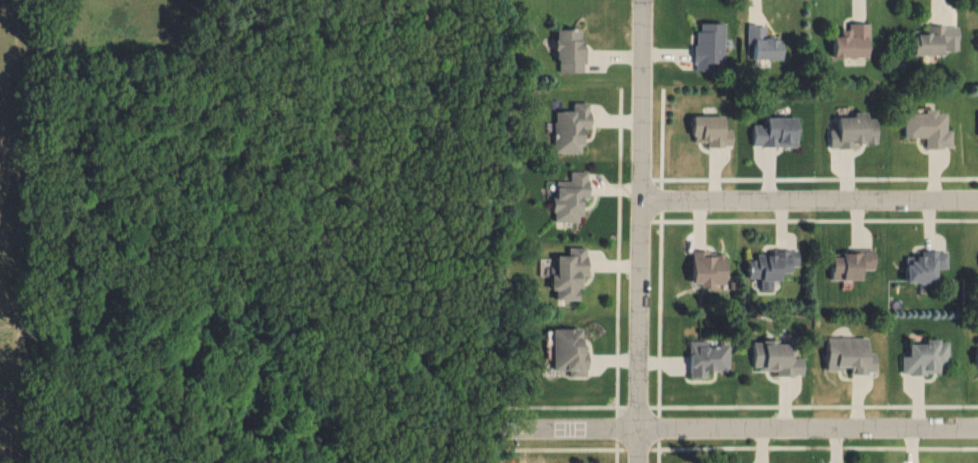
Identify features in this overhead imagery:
building: (933, 44)
building: (706, 45)
building: (853, 46)
building: (763, 47)
building: (567, 53)
building: (569, 130)
building: (708, 130)
building: (929, 131)
building: (854, 133)
building: (775, 135)
road: (659, 136)
road: (814, 176)
road: (633, 181)
road: (615, 186)
building: (568, 199)
road: (659, 199)
road: (810, 201)
road: (633, 203)
road: (814, 219)
road: (642, 231)
road: (617, 249)
building: (853, 266)
building: (705, 270)
building: (772, 270)
building: (925, 270)
building: (568, 276)
road: (658, 312)
building: (568, 355)
building: (976, 355)
building: (850, 358)
building: (927, 360)
building: (779, 361)
building: (707, 362)
road: (569, 405)
road: (813, 405)
road: (637, 406)
road: (616, 425)
road: (658, 426)
road: (739, 429)
road: (813, 446)
road: (636, 447)
road: (566, 448)
road: (616, 450)
road: (658, 450)

